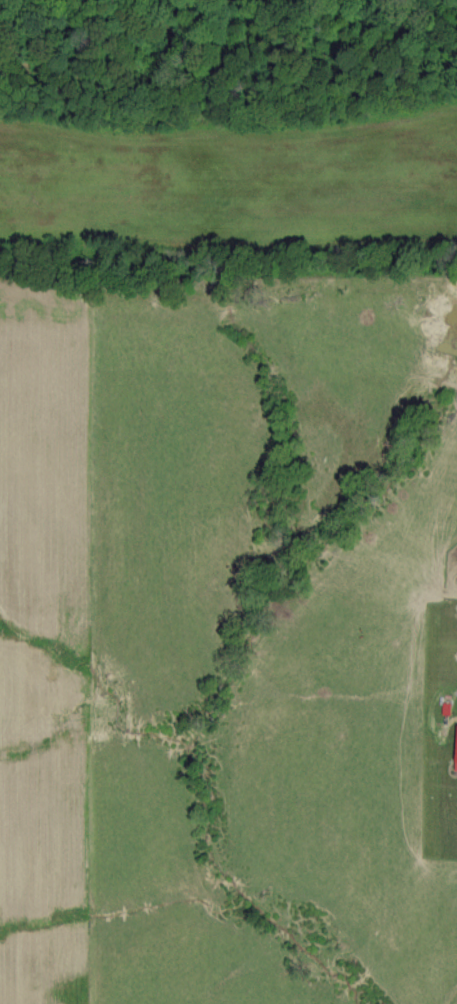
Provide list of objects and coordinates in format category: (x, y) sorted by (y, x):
building: (456, 762)

